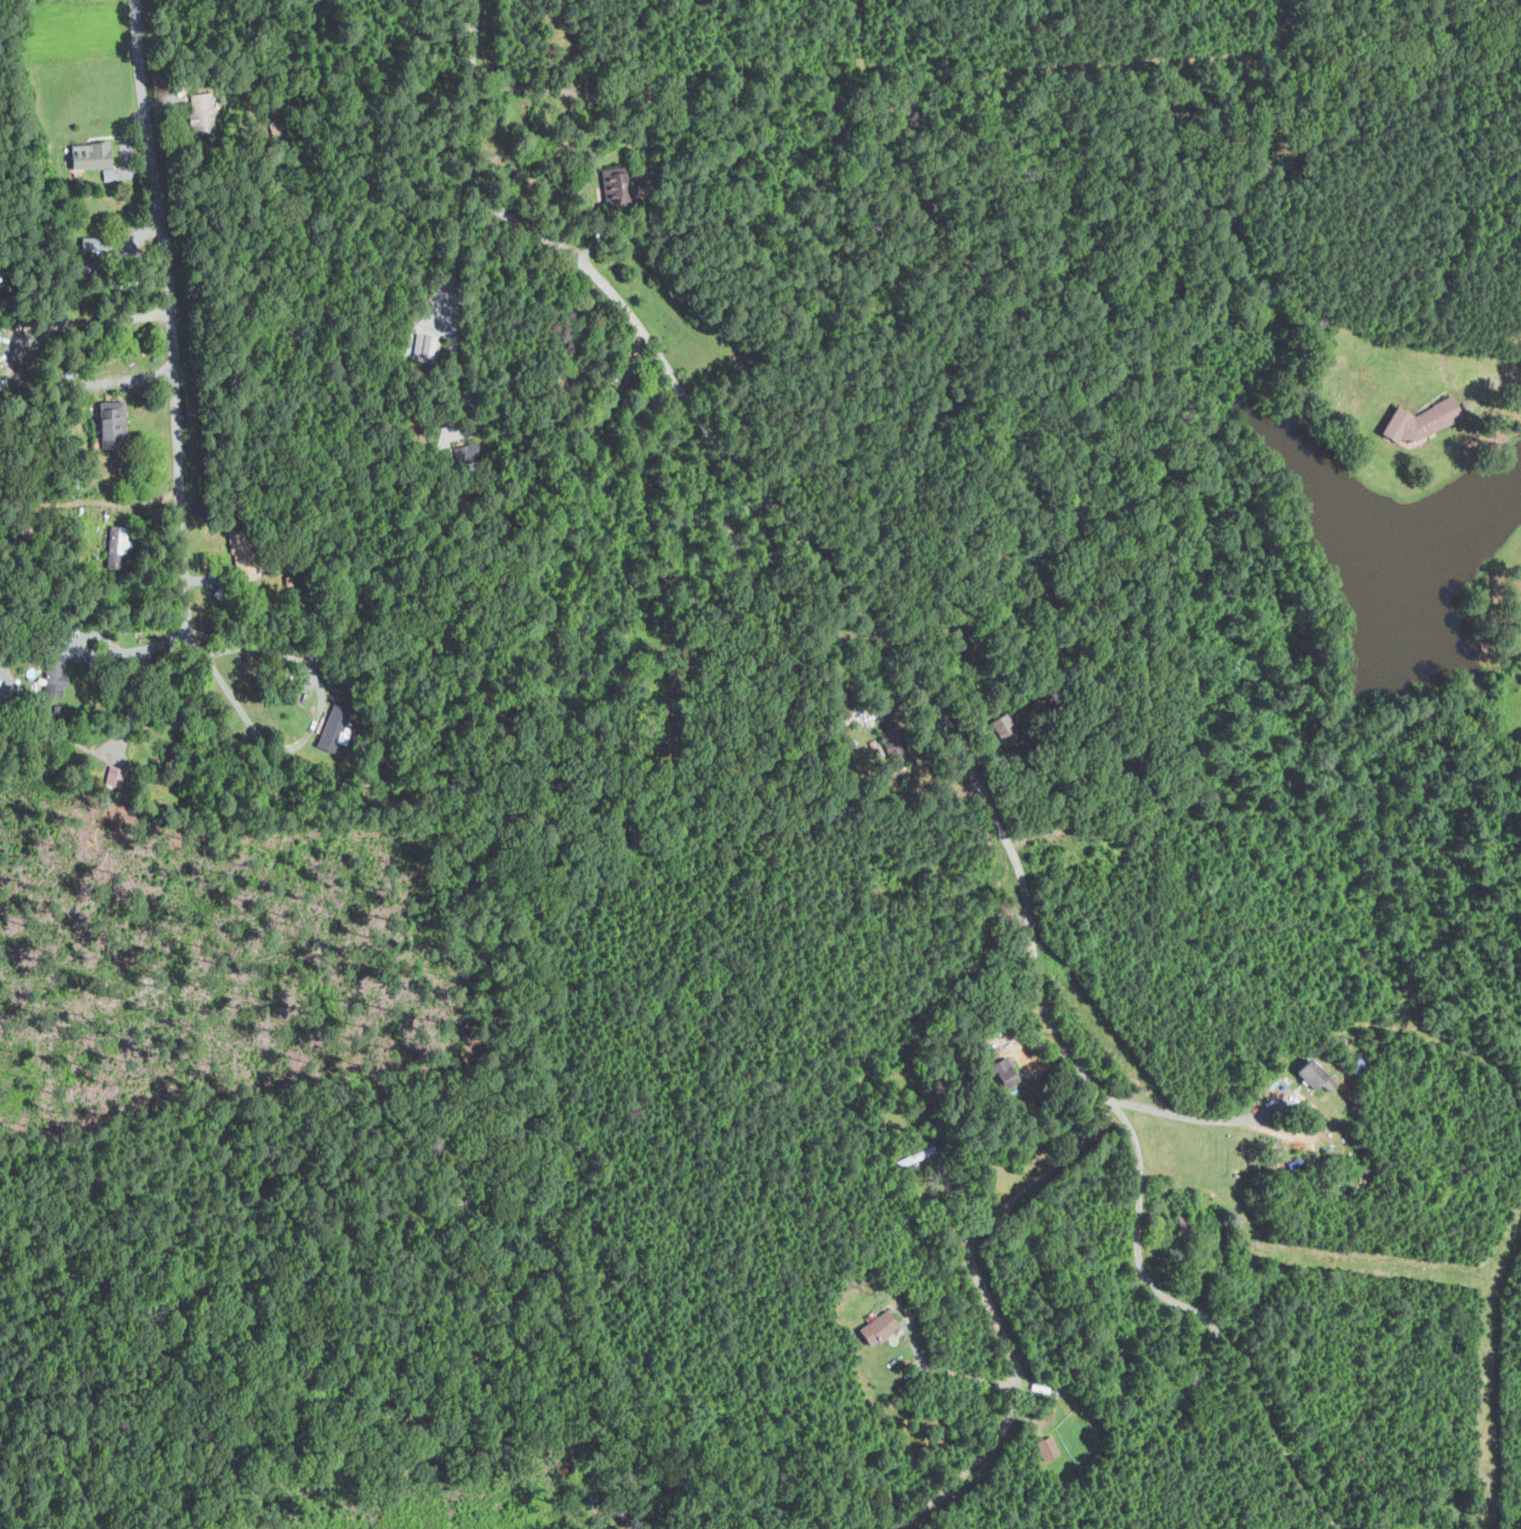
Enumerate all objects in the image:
building: (202, 112)
building: (93, 155)
building: (111, 174)
building: (611, 185)
building: (111, 247)
building: (123, 281)
road: (448, 301)
road: (172, 333)
building: (430, 347)
road: (6, 359)
road: (1499, 377)
building: (1424, 420)
building: (115, 424)
building: (467, 452)
road: (91, 456)
building: (76, 480)
building: (219, 593)
road: (106, 654)
building: (31, 697)
road: (318, 715)
road: (952, 735)
building: (332, 739)
building: (114, 776)
building: (1007, 1069)
building: (1319, 1075)
road: (1194, 1117)
road: (57, 1144)
building: (1294, 1163)
road: (991, 1310)
building: (905, 1313)
building: (874, 1324)
building: (1047, 1447)

